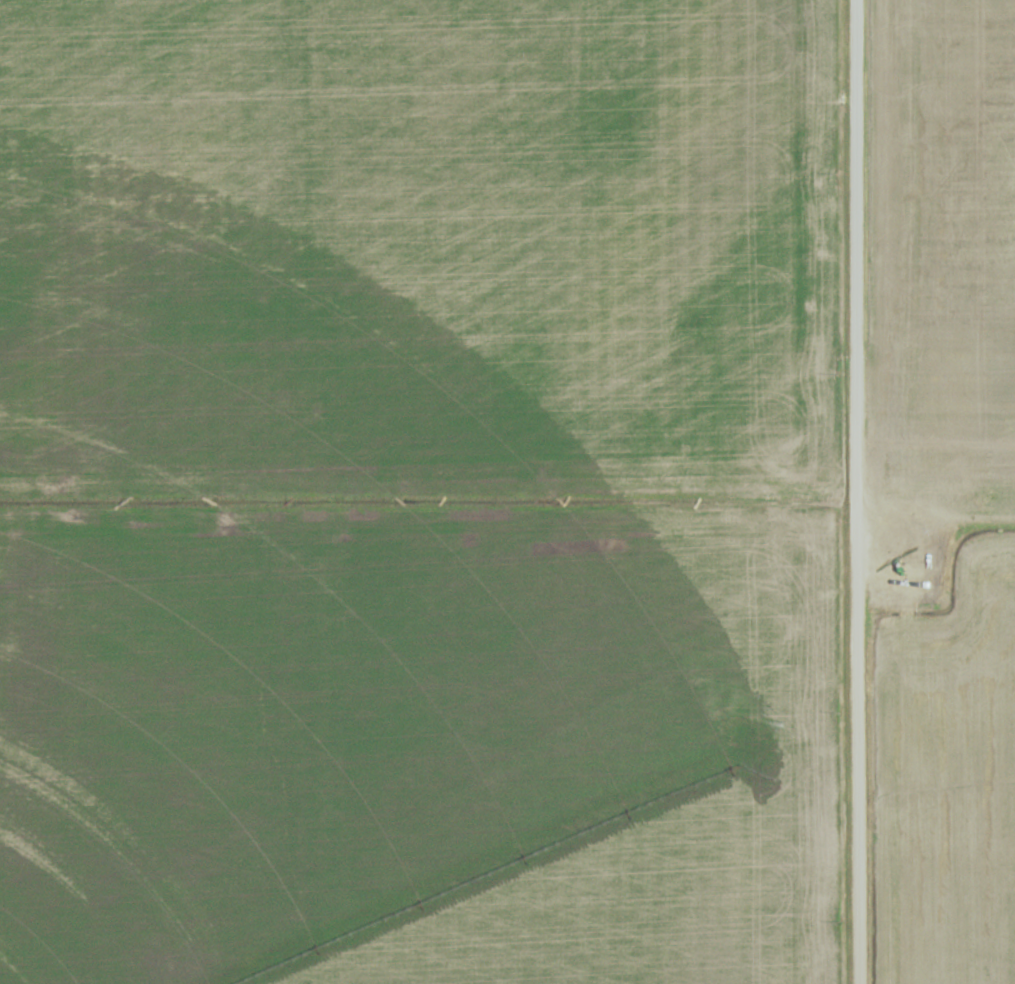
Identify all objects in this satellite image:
road: (859, 491)
road: (937, 511)

